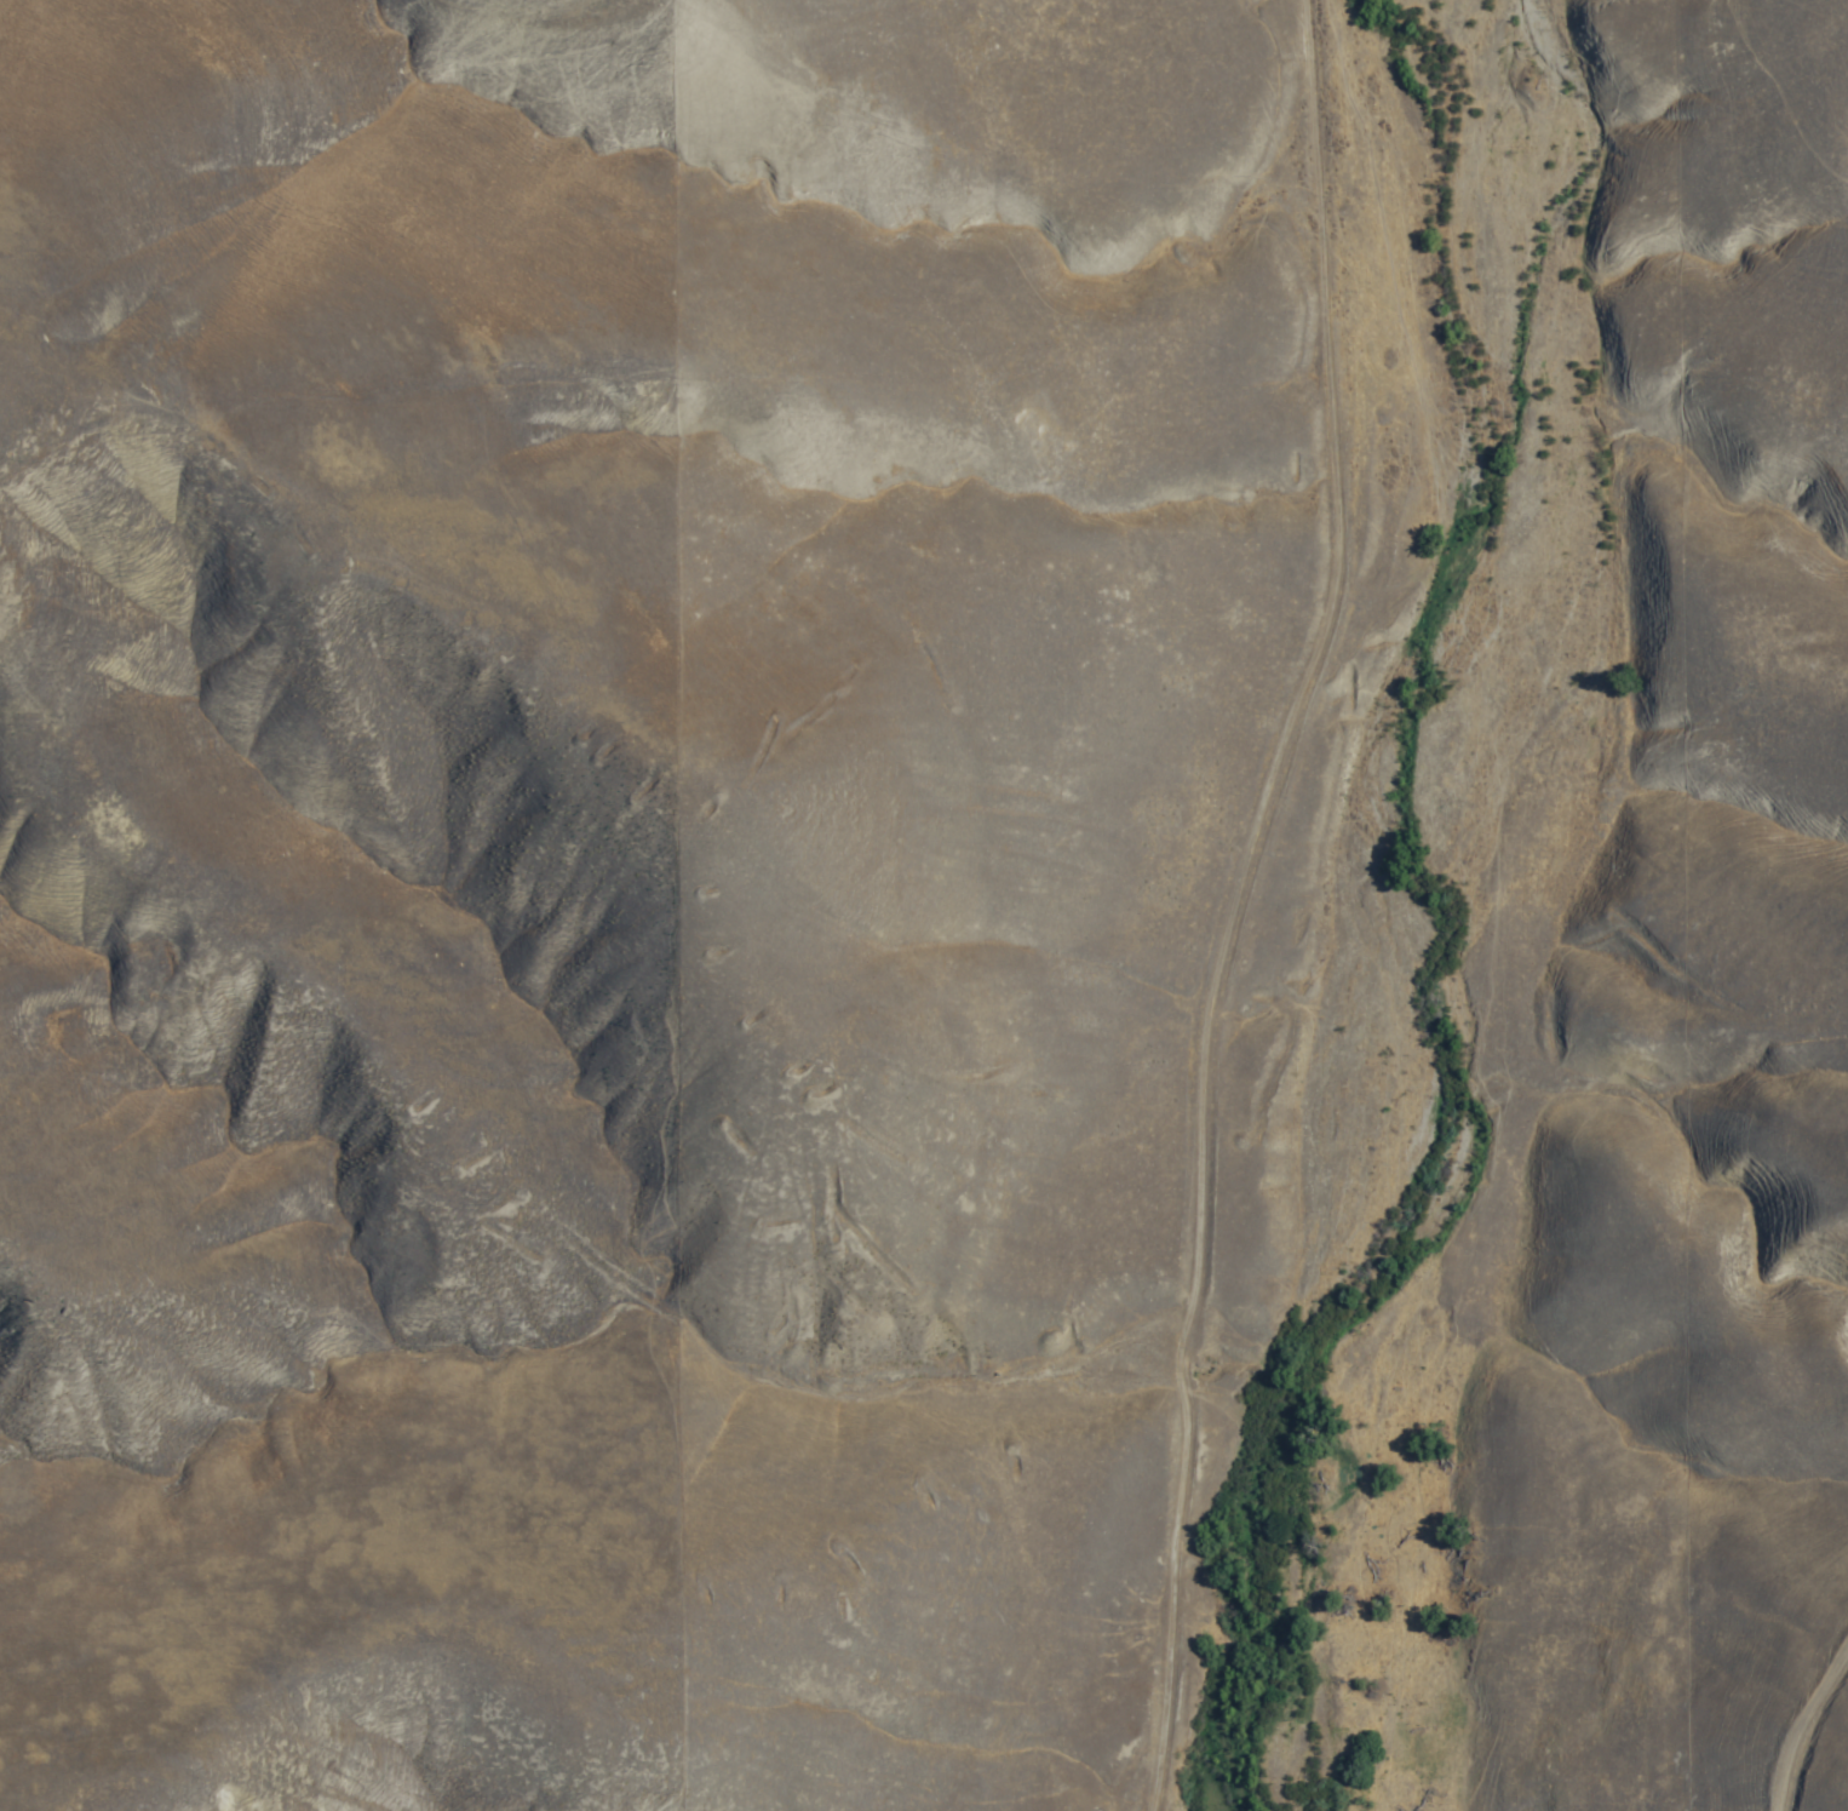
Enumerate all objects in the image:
road: (1238, 900)

